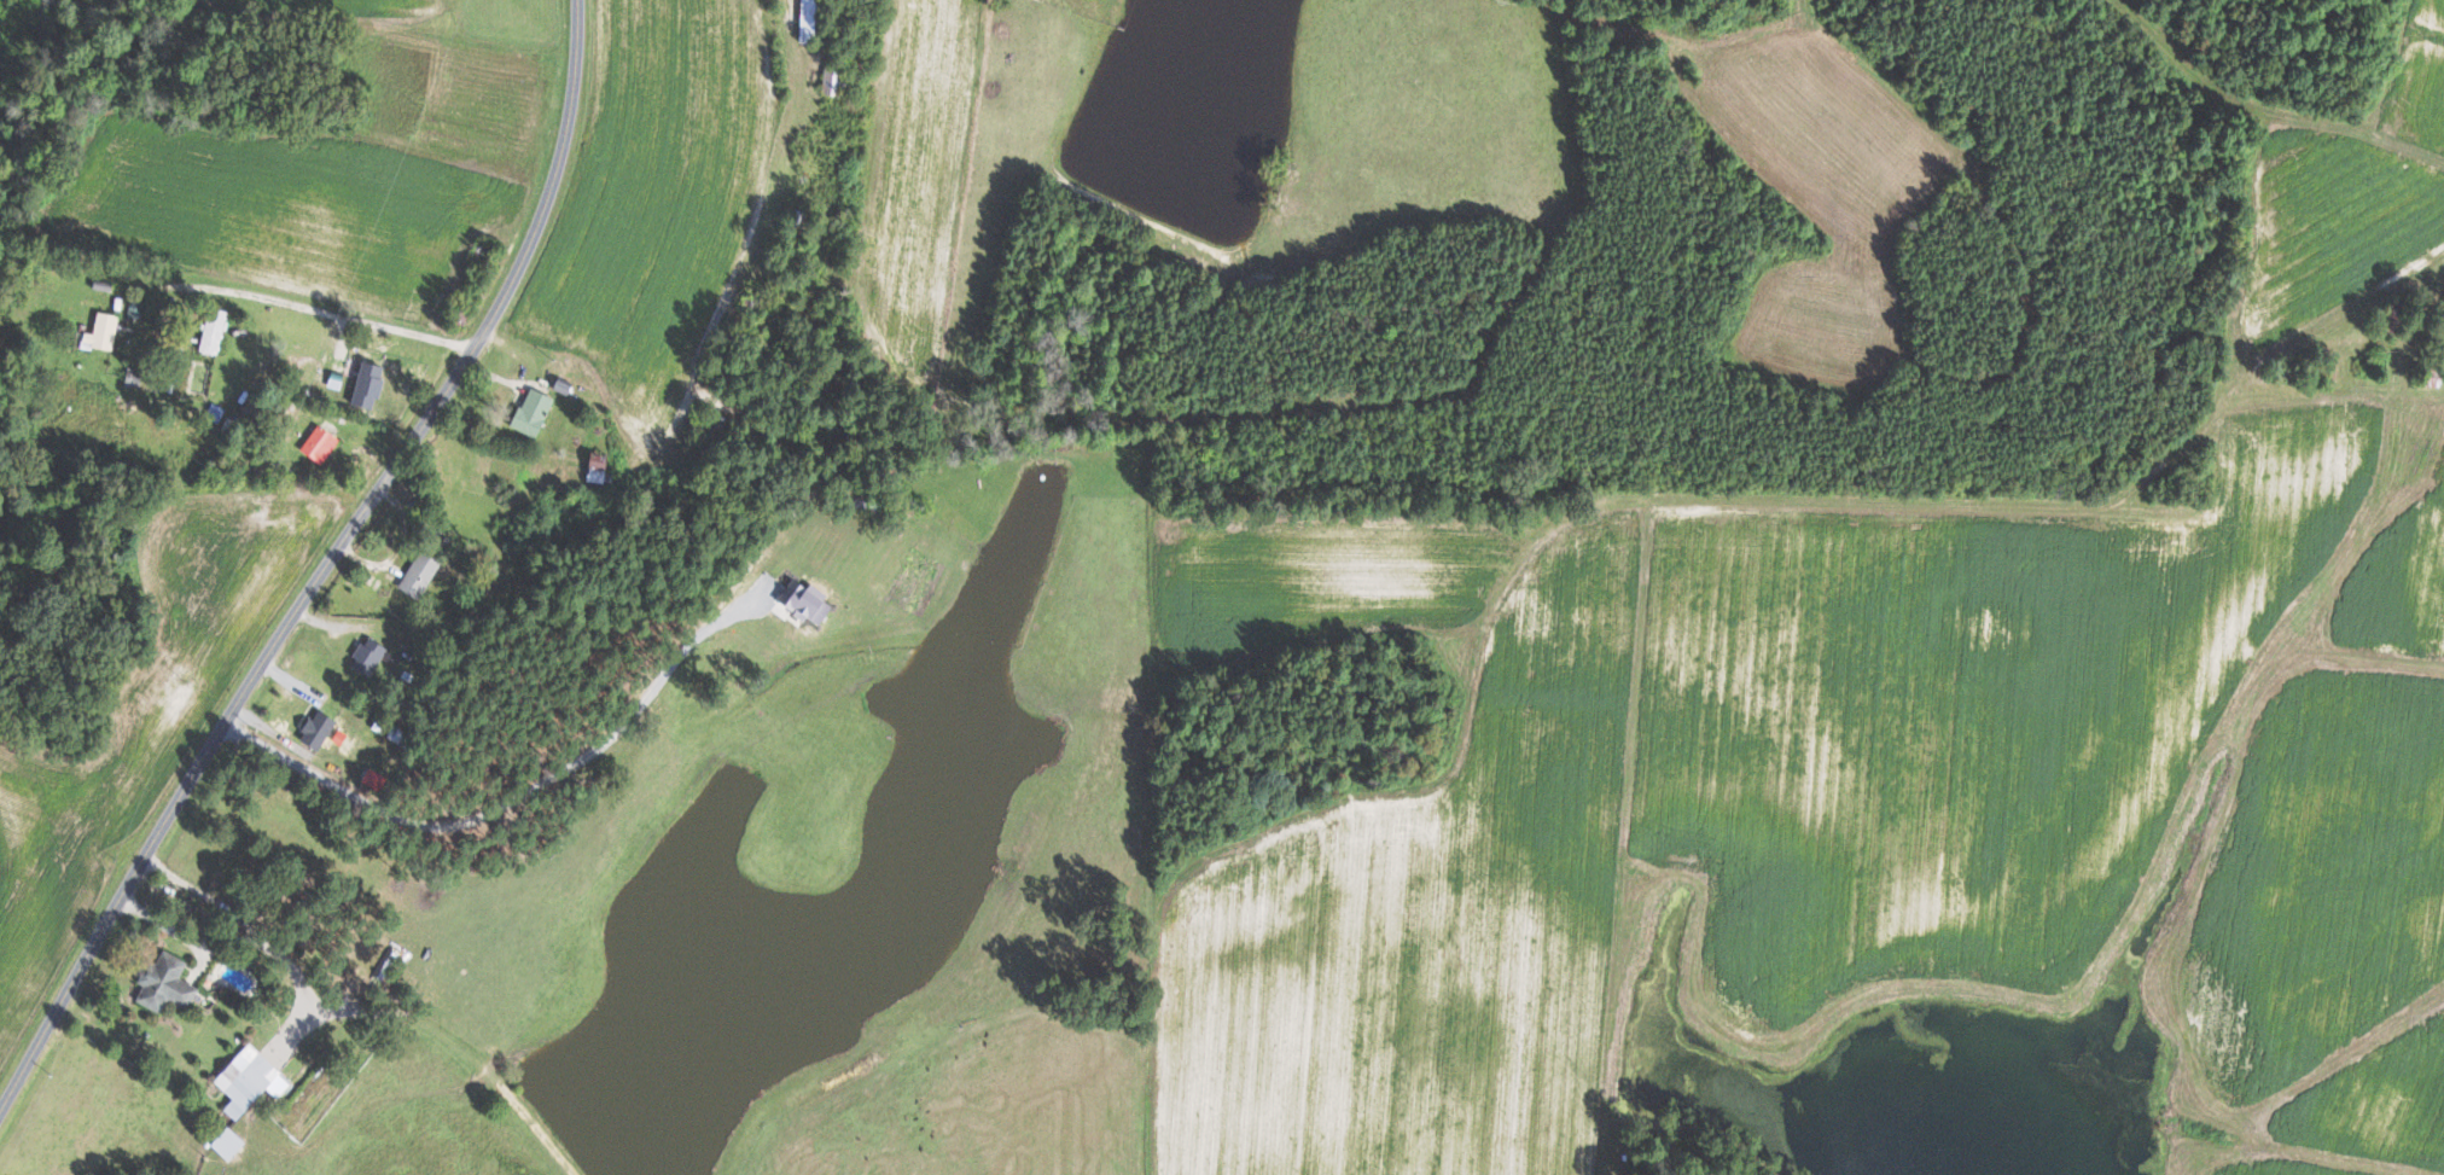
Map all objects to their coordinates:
building: (803, 18)
road: (324, 315)
building: (105, 332)
building: (136, 377)
building: (537, 412)
building: (322, 443)
building: (601, 471)
road: (325, 568)
building: (424, 574)
building: (372, 655)
building: (322, 729)
building: (378, 779)
road: (516, 790)
road: (242, 918)
building: (170, 985)
building: (250, 1081)

